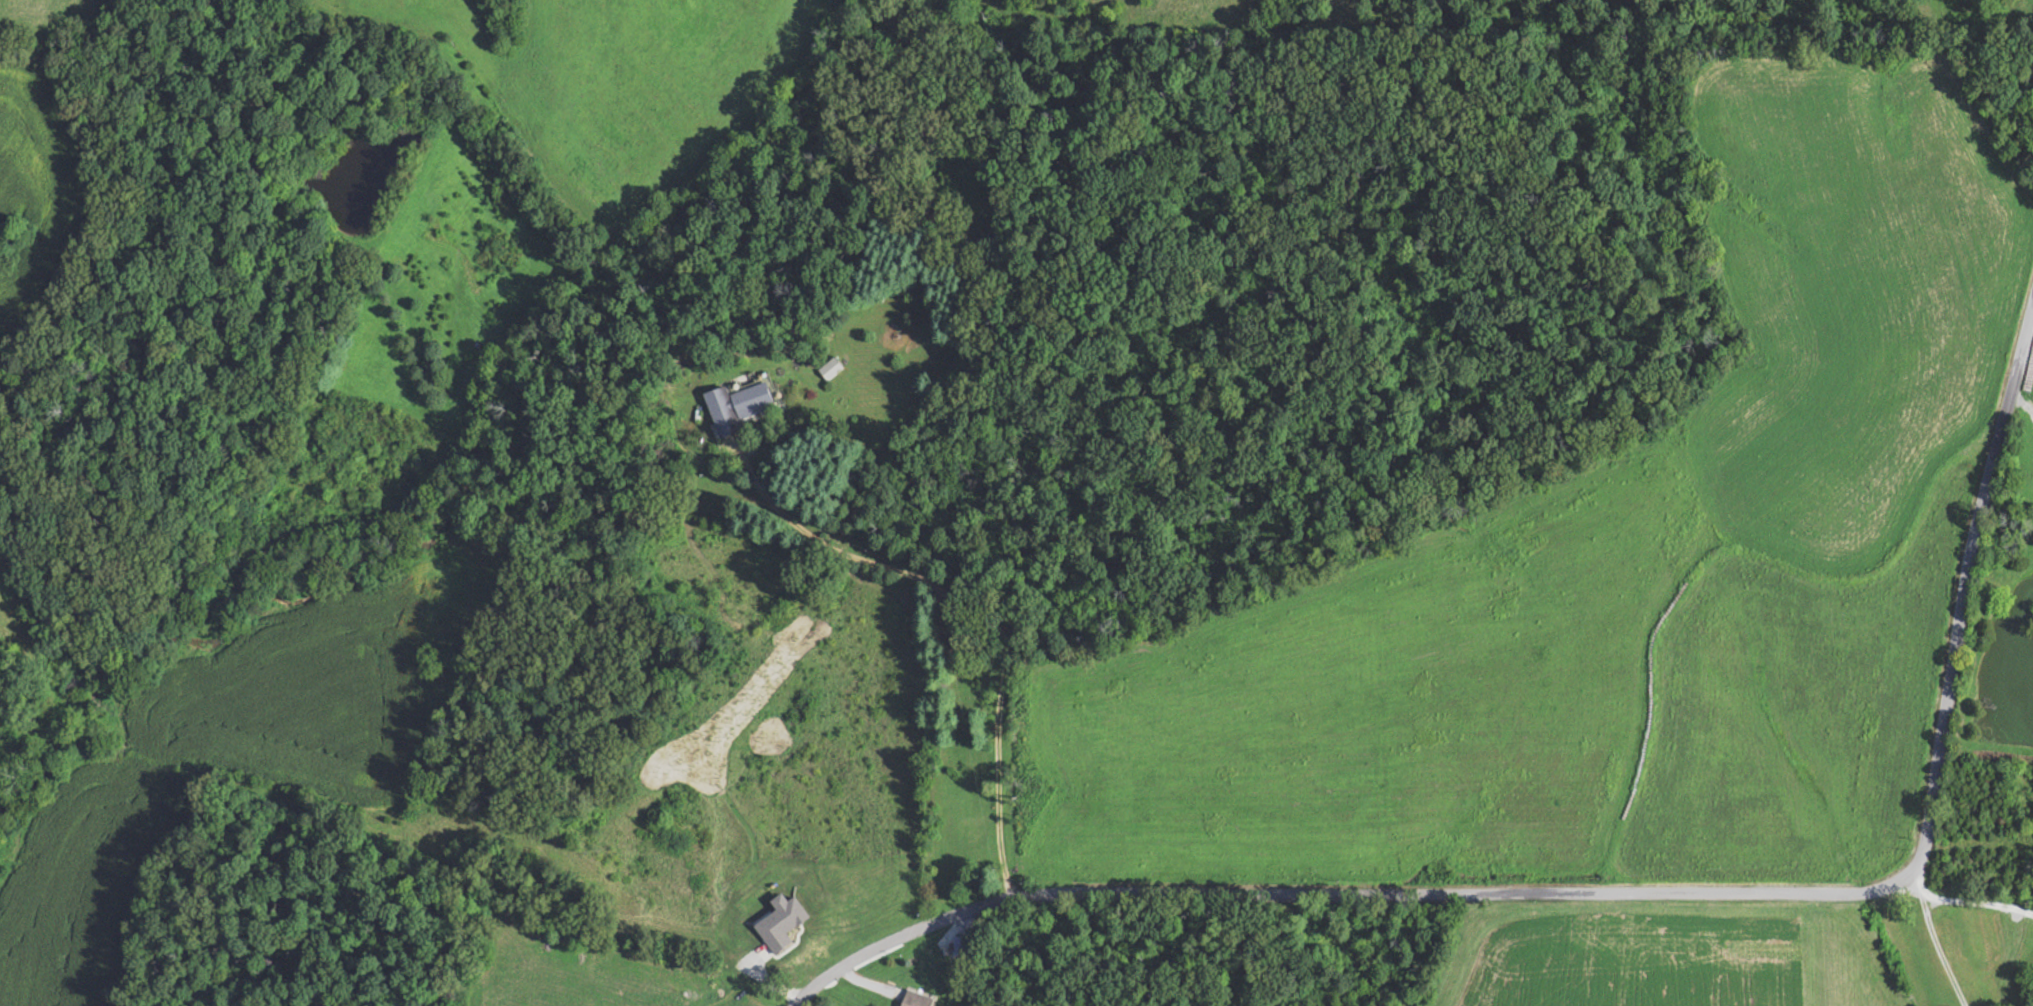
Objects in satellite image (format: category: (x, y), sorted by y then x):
building: (829, 368)
building: (753, 400)
road: (370, 845)
road: (1629, 894)
road: (1935, 939)
building: (920, 999)

